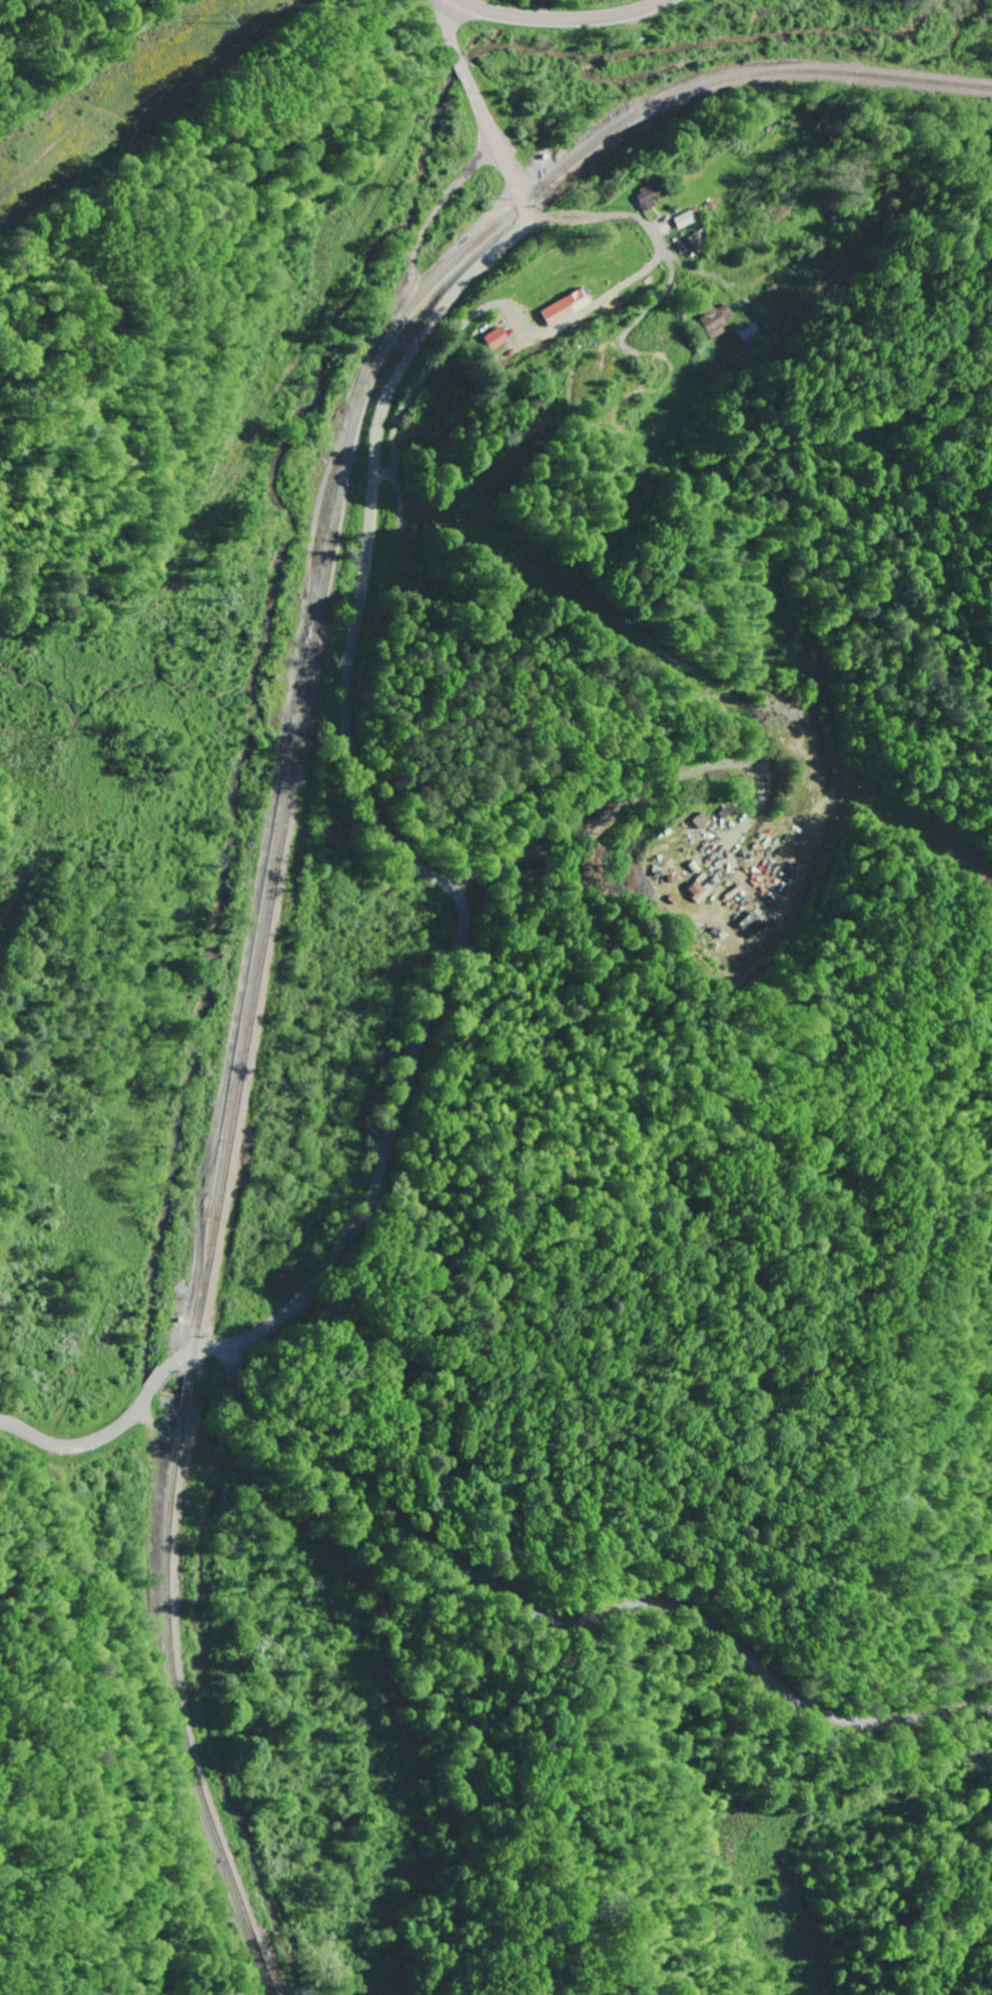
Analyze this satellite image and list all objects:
road: (564, 19)
building: (649, 193)
building: (687, 218)
road: (648, 228)
building: (698, 242)
building: (566, 306)
building: (711, 318)
building: (750, 333)
building: (493, 339)
road: (609, 437)
railway: (339, 510)
road: (344, 729)
road: (639, 797)
building: (706, 889)
building: (752, 923)
road: (159, 1378)
railway: (188, 1393)
road: (83, 1445)
road: (570, 1627)
railway: (183, 1709)

